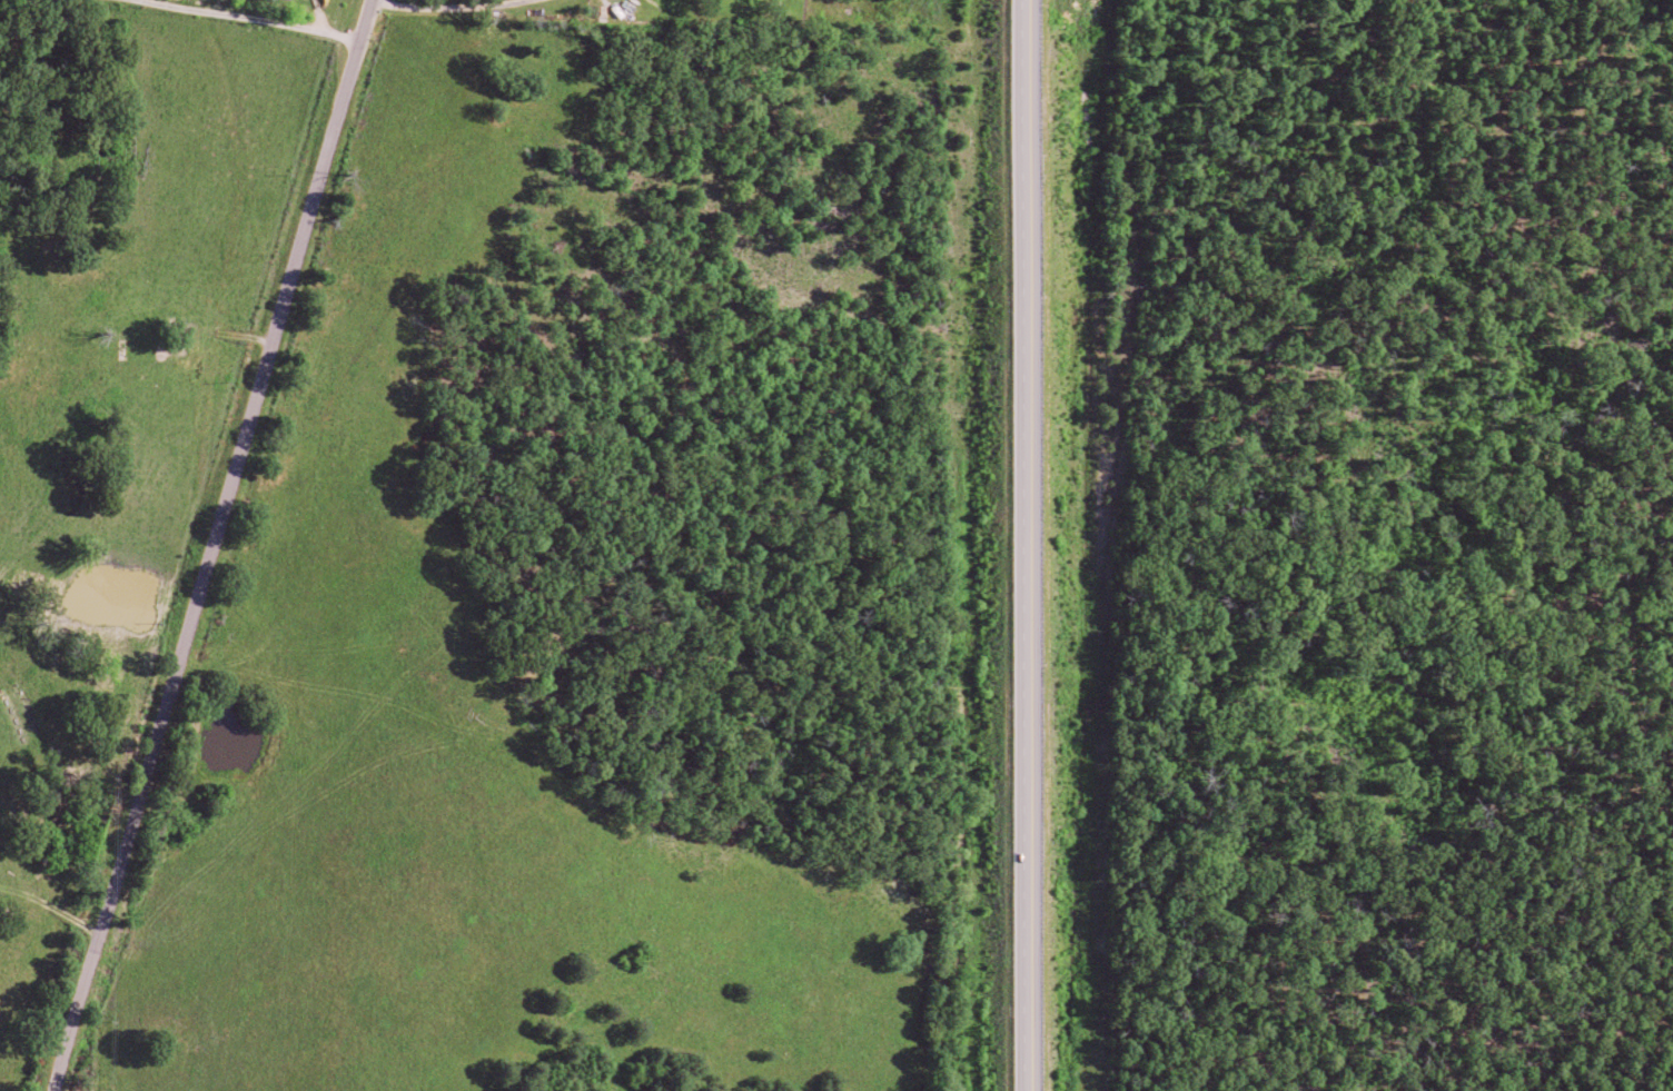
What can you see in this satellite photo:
road: (439, 4)
road: (239, 18)
road: (197, 337)
road: (212, 545)
road: (1023, 545)

